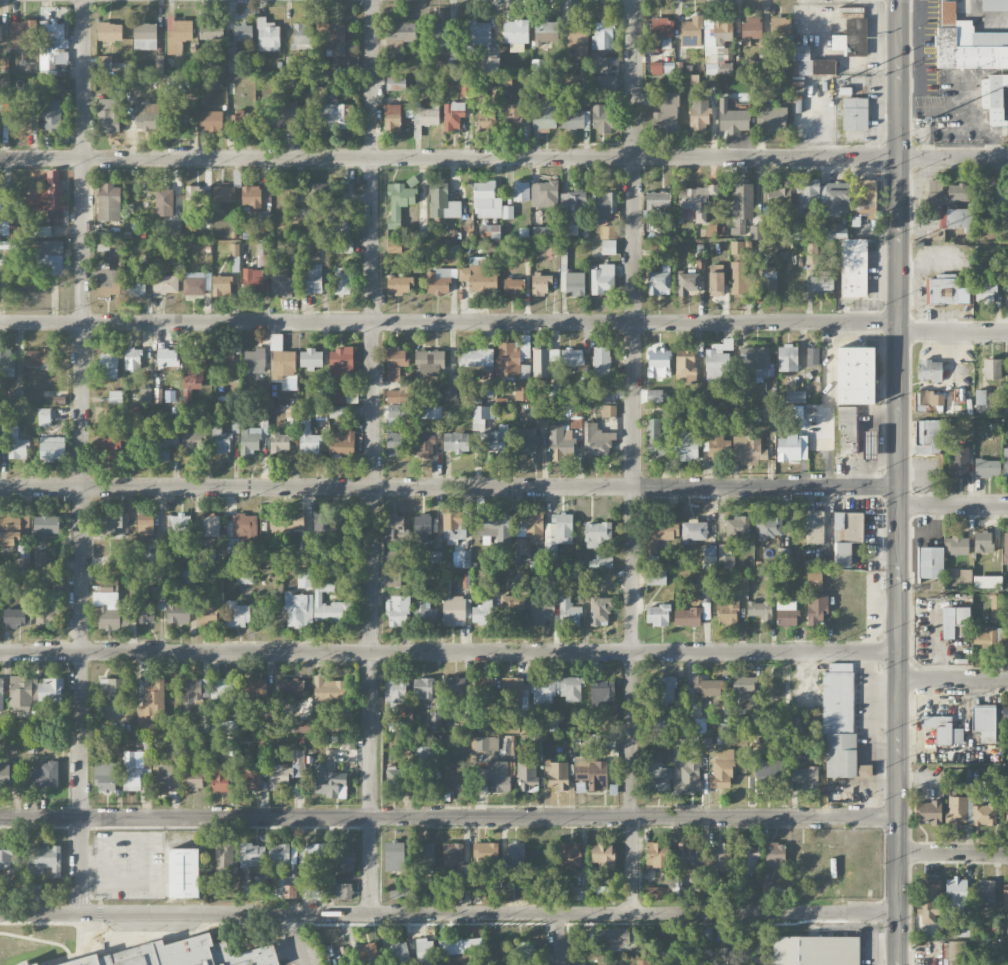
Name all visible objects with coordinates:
building: (995, 6)
building: (545, 26)
building: (780, 27)
building: (211, 30)
building: (751, 30)
building: (0, 31)
building: (109, 31)
building: (242, 32)
building: (691, 32)
building: (479, 33)
building: (661, 33)
building: (178, 34)
building: (515, 34)
building: (602, 35)
building: (21, 36)
building: (144, 36)
building: (267, 36)
building: (302, 36)
building: (332, 37)
building: (442, 37)
building: (852, 38)
building: (400, 39)
building: (578, 39)
building: (967, 43)
building: (53, 45)
building: (718, 46)
building: (800, 53)
building: (4, 63)
building: (104, 64)
building: (490, 64)
building: (600, 64)
building: (538, 66)
building: (823, 67)
building: (662, 68)
building: (396, 84)
building: (606, 86)
building: (993, 97)
building: (109, 113)
building: (283, 113)
building: (545, 114)
building: (666, 114)
building: (855, 114)
building: (52, 115)
building: (452, 115)
building: (0, 116)
building: (334, 116)
building: (514, 116)
building: (145, 117)
building: (773, 117)
building: (392, 118)
building: (424, 118)
building: (180, 119)
building: (572, 119)
building: (602, 119)
building: (698, 119)
building: (29, 120)
building: (243, 120)
building: (210, 121)
building: (734, 121)
building: (484, 122)
road: (504, 156)
building: (958, 189)
building: (520, 191)
building: (805, 192)
building: (48, 194)
building: (223, 194)
building: (544, 194)
building: (314, 195)
building: (1001, 195)
building: (195, 196)
building: (0, 197)
building: (250, 198)
building: (778, 198)
building: (837, 199)
building: (696, 200)
building: (485, 201)
building: (163, 202)
building: (398, 202)
building: (442, 202)
building: (656, 202)
building: (108, 203)
building: (603, 206)
building: (742, 207)
building: (572, 210)
building: (507, 212)
building: (957, 219)
building: (344, 225)
building: (40, 231)
building: (489, 231)
building: (783, 231)
building: (540, 232)
building: (608, 232)
building: (755, 233)
power tower: (912, 241)
building: (9, 245)
road: (954, 246)
building: (394, 247)
building: (608, 247)
building: (737, 247)
building: (234, 250)
building: (50, 256)
building: (262, 257)
building: (715, 268)
building: (853, 268)
building: (478, 276)
building: (313, 279)
building: (602, 279)
building: (439, 280)
building: (107, 281)
building: (252, 281)
building: (280, 282)
building: (659, 282)
building: (769, 282)
building: (821, 282)
building: (1006, 282)
building: (194, 283)
building: (687, 283)
building: (343, 284)
building: (540, 284)
building: (574, 284)
building: (716, 284)
building: (137, 285)
building: (165, 285)
building: (399, 285)
building: (221, 286)
building: (513, 287)
building: (738, 287)
building: (945, 290)
building: (985, 290)
road: (449, 321)
road: (953, 333)
building: (511, 356)
building: (812, 356)
building: (38, 357)
building: (167, 357)
building: (476, 357)
building: (571, 357)
building: (788, 358)
building: (132, 359)
building: (281, 359)
building: (310, 359)
building: (255, 360)
building: (222, 361)
building: (543, 361)
building: (601, 361)
building: (717, 361)
building: (6, 362)
building: (757, 362)
building: (395, 363)
building: (429, 363)
building: (658, 363)
building: (108, 364)
building: (341, 367)
building: (686, 369)
building: (991, 369)
building: (929, 371)
building: (195, 372)
building: (524, 372)
building: (855, 375)
building: (449, 389)
building: (522, 390)
building: (145, 395)
building: (340, 395)
building: (959, 395)
building: (187, 396)
building: (393, 396)
building: (608, 396)
building: (653, 396)
building: (795, 396)
building: (15, 397)
building: (985, 401)
building: (928, 402)
building: (1006, 407)
building: (335, 411)
building: (608, 411)
building: (431, 412)
building: (538, 412)
building: (103, 414)
building: (397, 414)
building: (797, 414)
building: (204, 416)
building: (482, 416)
building: (575, 416)
building: (43, 417)
building: (292, 417)
road: (953, 419)
building: (707, 426)
building: (847, 429)
building: (927, 437)
building: (308, 439)
building: (655, 439)
building: (191, 440)
building: (597, 440)
building: (220, 441)
building: (278, 441)
building: (494, 441)
building: (526, 441)
building: (249, 442)
building: (455, 442)
building: (393, 443)
building: (342, 444)
building: (561, 444)
building: (17, 445)
building: (167, 446)
building: (423, 446)
building: (689, 446)
building: (719, 446)
building: (870, 446)
building: (792, 448)
building: (51, 449)
building: (748, 450)
road: (82, 456)
road: (633, 456)
road: (371, 457)
building: (959, 462)
building: (1005, 464)
building: (987, 468)
road: (899, 482)
road: (449, 486)
power tower: (912, 494)
road: (953, 507)
building: (114, 521)
building: (289, 522)
building: (46, 525)
building: (144, 525)
building: (211, 526)
building: (178, 527)
building: (393, 527)
building: (424, 527)
building: (454, 527)
building: (769, 527)
building: (814, 527)
building: (848, 527)
building: (495, 528)
building: (9, 530)
building: (527, 533)
building: (557, 533)
building: (597, 534)
building: (660, 534)
building: (324, 540)
building: (731, 540)
building: (982, 542)
building: (956, 545)
building: (1005, 549)
building: (22, 554)
building: (783, 555)
building: (842, 555)
building: (710, 556)
building: (434, 557)
building: (153, 559)
building: (464, 559)
building: (104, 562)
building: (600, 562)
building: (930, 562)
building: (50, 566)
building: (655, 571)
building: (244, 577)
building: (392, 577)
building: (965, 578)
building: (304, 579)
building: (814, 580)
building: (188, 581)
building: (987, 582)
building: (447, 588)
building: (705, 589)
road: (953, 593)
building: (512, 605)
building: (329, 606)
building: (995, 606)
building: (148, 609)
building: (299, 609)
building: (816, 609)
building: (177, 610)
building: (112, 611)
building: (455, 611)
building: (599, 611)
building: (760, 611)
building: (424, 612)
building: (541, 612)
building: (569, 612)
building: (727, 612)
building: (483, 613)
building: (786, 613)
building: (206, 614)
building: (236, 614)
building: (396, 614)
building: (657, 615)
building: (14, 617)
building: (687, 617)
building: (954, 620)
road: (449, 652)
road: (953, 681)
building: (706, 686)
building: (112, 687)
building: (423, 687)
building: (290, 688)
building: (743, 688)
building: (571, 689)
building: (50, 691)
building: (255, 691)
building: (511, 691)
building: (665, 691)
building: (19, 692)
building: (191, 692)
building: (601, 692)
building: (543, 693)
building: (1, 695)
building: (395, 695)
parking lot: (866, 698)
building: (327, 702)
building: (222, 706)
building: (151, 708)
building: (1005, 715)
building: (50, 721)
building: (434, 721)
building: (840, 722)
building: (984, 722)
building: (656, 724)
building: (696, 725)
power tower: (910, 725)
parking lot: (962, 725)
parking lot: (921, 727)
building: (305, 728)
building: (939, 728)
building: (486, 744)
building: (534, 744)
building: (232, 746)
road: (953, 767)
building: (424, 768)
building: (135, 769)
building: (722, 770)
building: (288, 772)
building: (592, 772)
building: (557, 774)
building: (768, 774)
building: (5, 775)
building: (42, 775)
building: (806, 775)
building: (104, 776)
building: (497, 776)
building: (527, 776)
building: (687, 776)
building: (220, 777)
building: (251, 777)
building: (659, 777)
building: (394, 778)
building: (162, 779)
building: (192, 780)
building: (454, 781)
building: (329, 783)
building: (613, 790)
building: (956, 810)
building: (929, 812)
building: (984, 814)
road: (448, 815)
building: (486, 853)
road: (953, 853)
building: (279, 854)
building: (570, 854)
building: (775, 854)
building: (254, 855)
building: (602, 855)
building: (655, 855)
building: (516, 856)
building: (313, 857)
building: (393, 857)
building: (720, 857)
building: (5, 859)
building: (689, 859)
building: (747, 859)
building: (45, 860)
building: (346, 861)
building: (425, 861)
building: (225, 862)
building: (332, 863)
building: (455, 863)
building: (182, 873)
building: (507, 880)
building: (257, 886)
building: (290, 888)
building: (478, 888)
building: (736, 889)
building: (340, 891)
building: (984, 891)
building: (312, 892)
building: (606, 892)
building: (579, 893)
building: (656, 893)
building: (955, 894)
building: (1005, 897)
building: (927, 900)
road: (449, 913)
building: (960, 930)
building: (703, 933)
building: (612, 936)
road: (297, 939)
road: (558, 939)
building: (463, 945)
power tower: (910, 948)
building: (424, 950)
building: (815, 950)
building: (368, 952)
building: (524, 952)
building: (187, 953)
building: (400, 954)
building: (642, 962)
building: (26, 964)
building: (36, 964)

